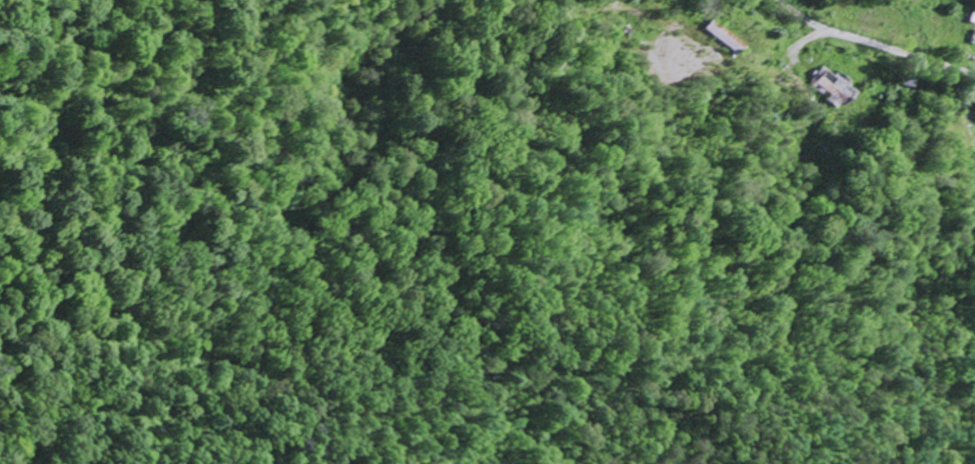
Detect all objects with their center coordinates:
road: (908, 52)
building: (841, 87)
road: (911, 119)

